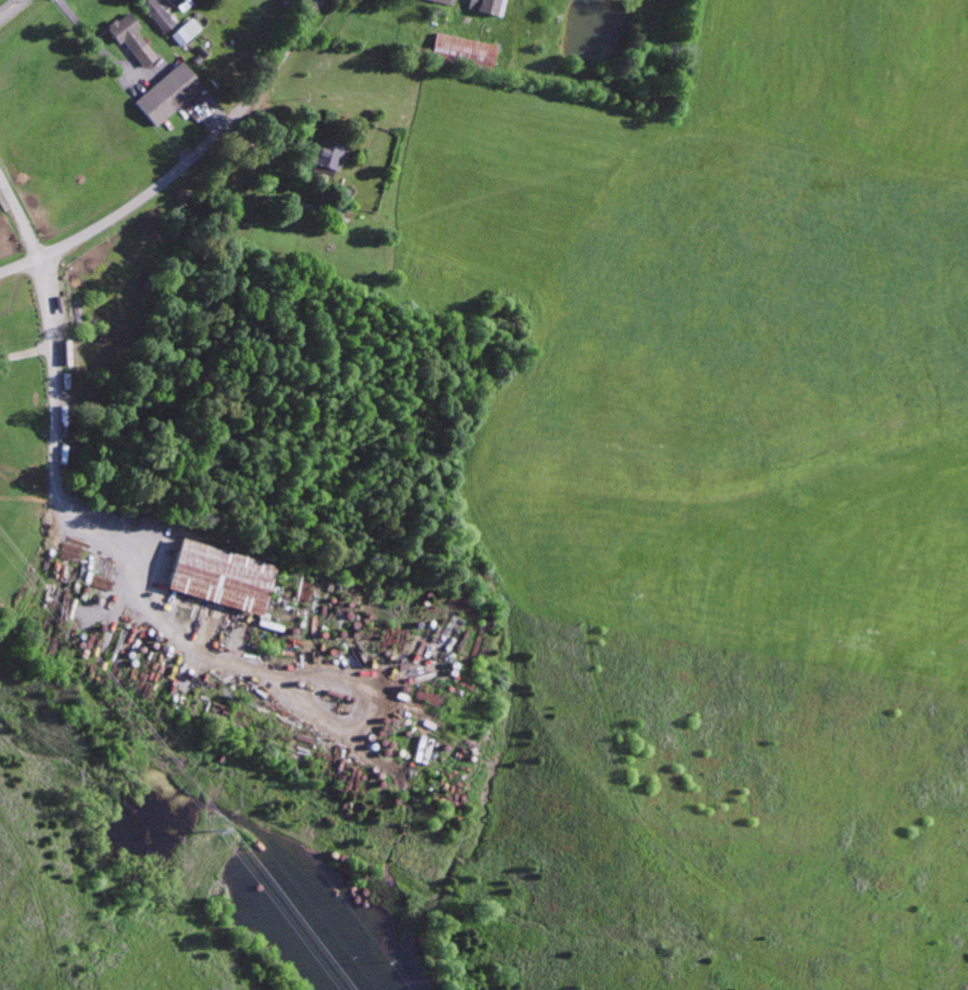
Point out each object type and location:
building: (444, 2)
building: (182, 4)
building: (486, 6)
road: (10, 8)
building: (157, 15)
building: (185, 32)
building: (131, 38)
building: (463, 51)
building: (167, 95)
building: (325, 154)
road: (184, 165)
building: (221, 577)

